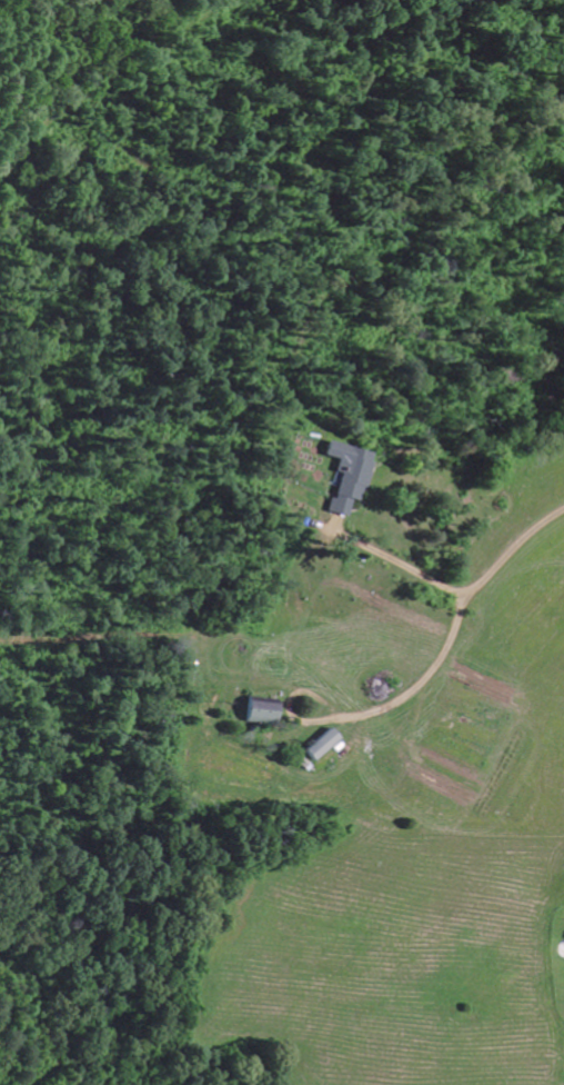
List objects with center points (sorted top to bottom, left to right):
road: (541, 438)
building: (348, 476)
building: (258, 710)
building: (319, 746)

